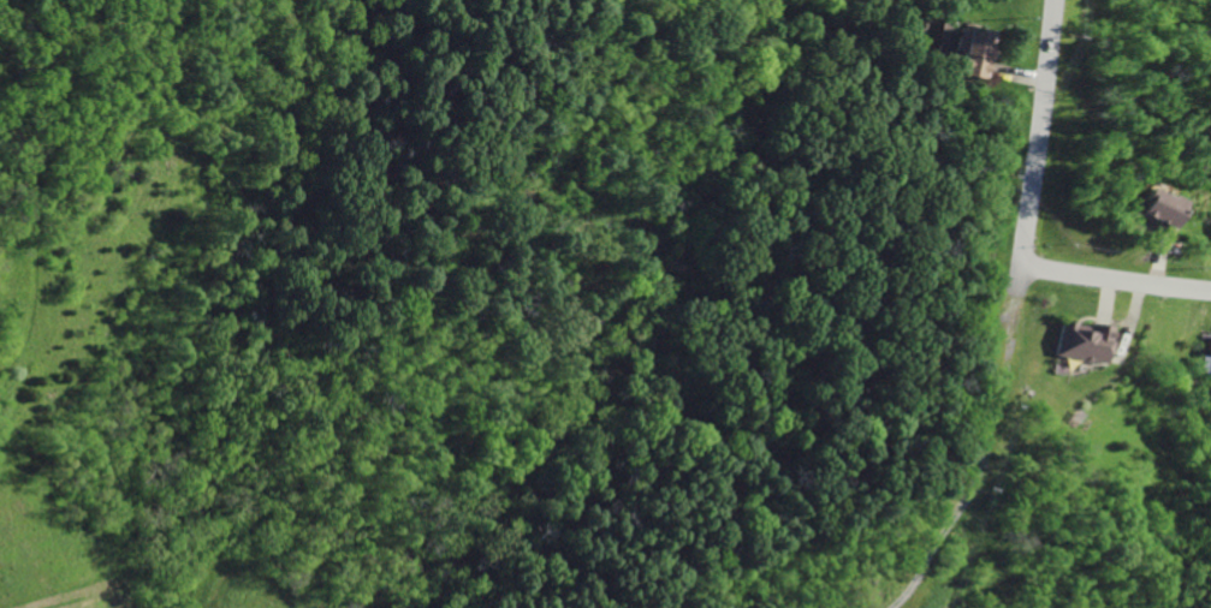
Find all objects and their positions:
building: (969, 52)
road: (1035, 135)
building: (1152, 208)
road: (1017, 279)
road: (1115, 282)
building: (1079, 341)
building: (1205, 362)
road: (932, 556)

